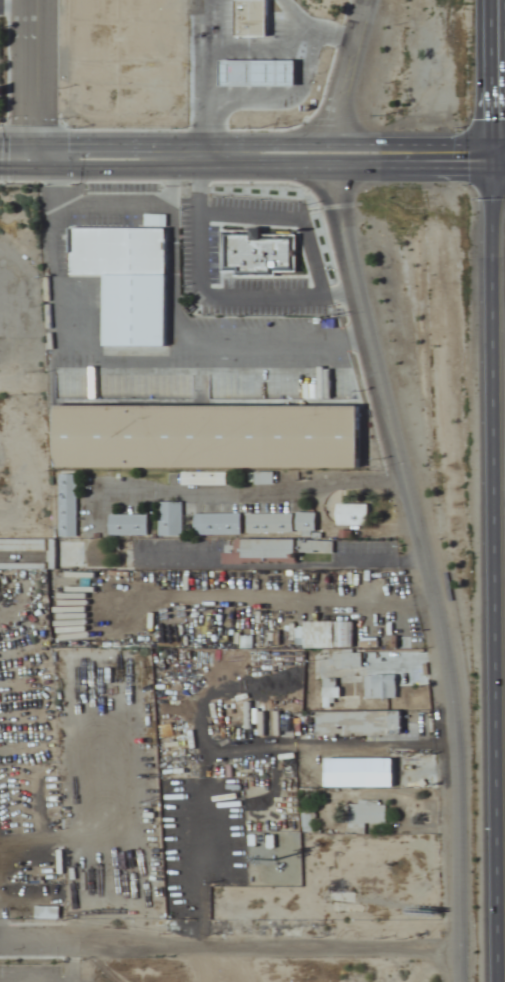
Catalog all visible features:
building: (251, 18)
building: (235, 19)
road: (288, 19)
road: (196, 54)
building: (258, 73)
gas station: (242, 74)
road: (30, 78)
road: (491, 78)
road: (267, 97)
road: (165, 156)
road: (417, 156)
traffic signals: (492, 157)
road: (190, 176)
road: (190, 207)
road: (202, 218)
building: (246, 251)
road: (303, 261)
building: (125, 280)
road: (195, 290)
road: (250, 298)
road: (329, 298)
road: (274, 339)
building: (204, 437)
road: (396, 486)
building: (67, 505)
building: (351, 515)
building: (170, 519)
building: (280, 523)
building: (217, 524)
building: (127, 525)
building: (268, 550)
building: (22, 554)
road: (494, 569)
building: (324, 635)
building: (365, 643)
building: (347, 660)
building: (380, 686)
building: (330, 688)
building: (358, 724)
building: (364, 762)
building: (365, 816)
road: (225, 947)

